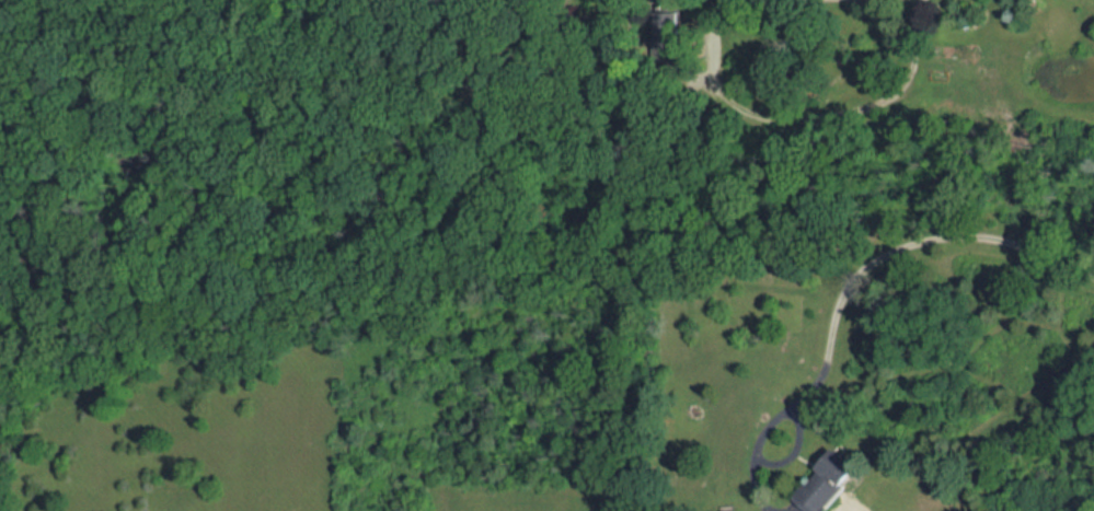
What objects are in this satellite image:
road: (804, 119)
road: (850, 282)
building: (830, 484)

